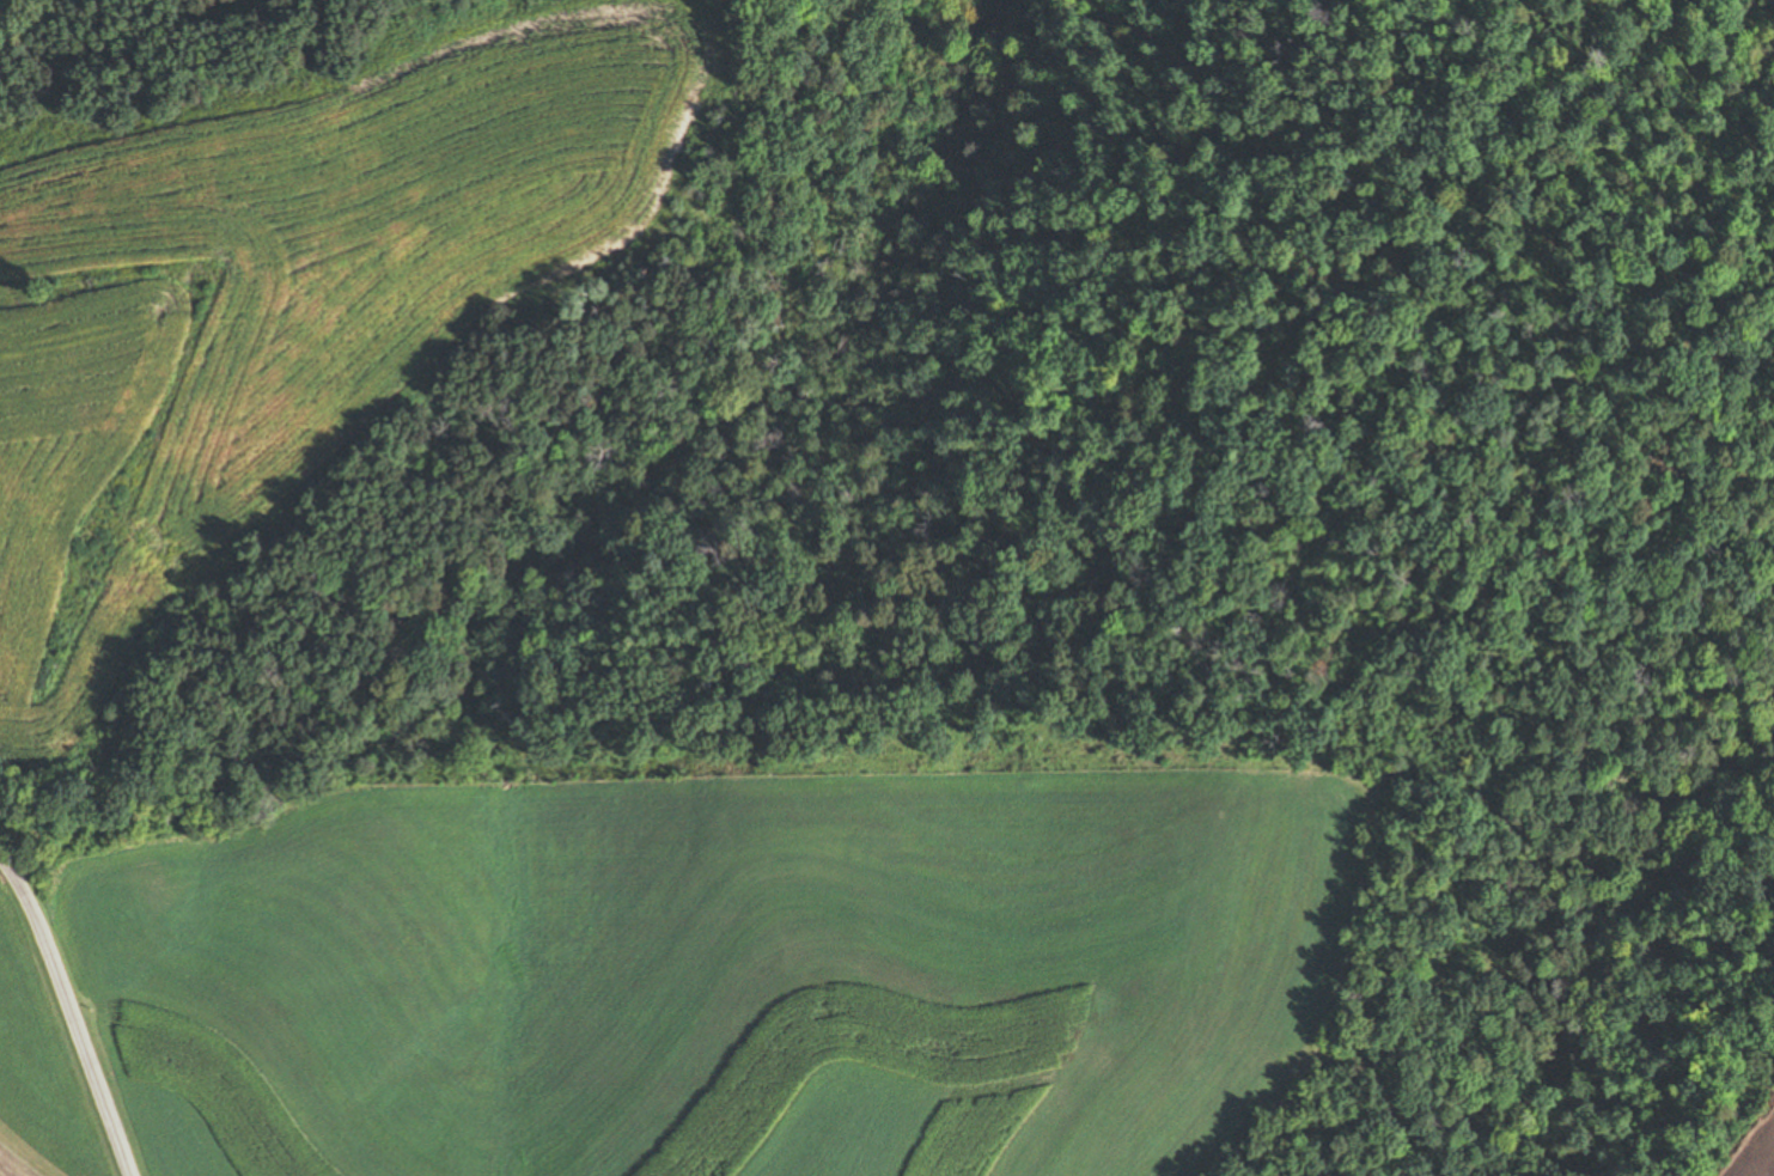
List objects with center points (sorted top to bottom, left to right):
road: (63, 1025)

